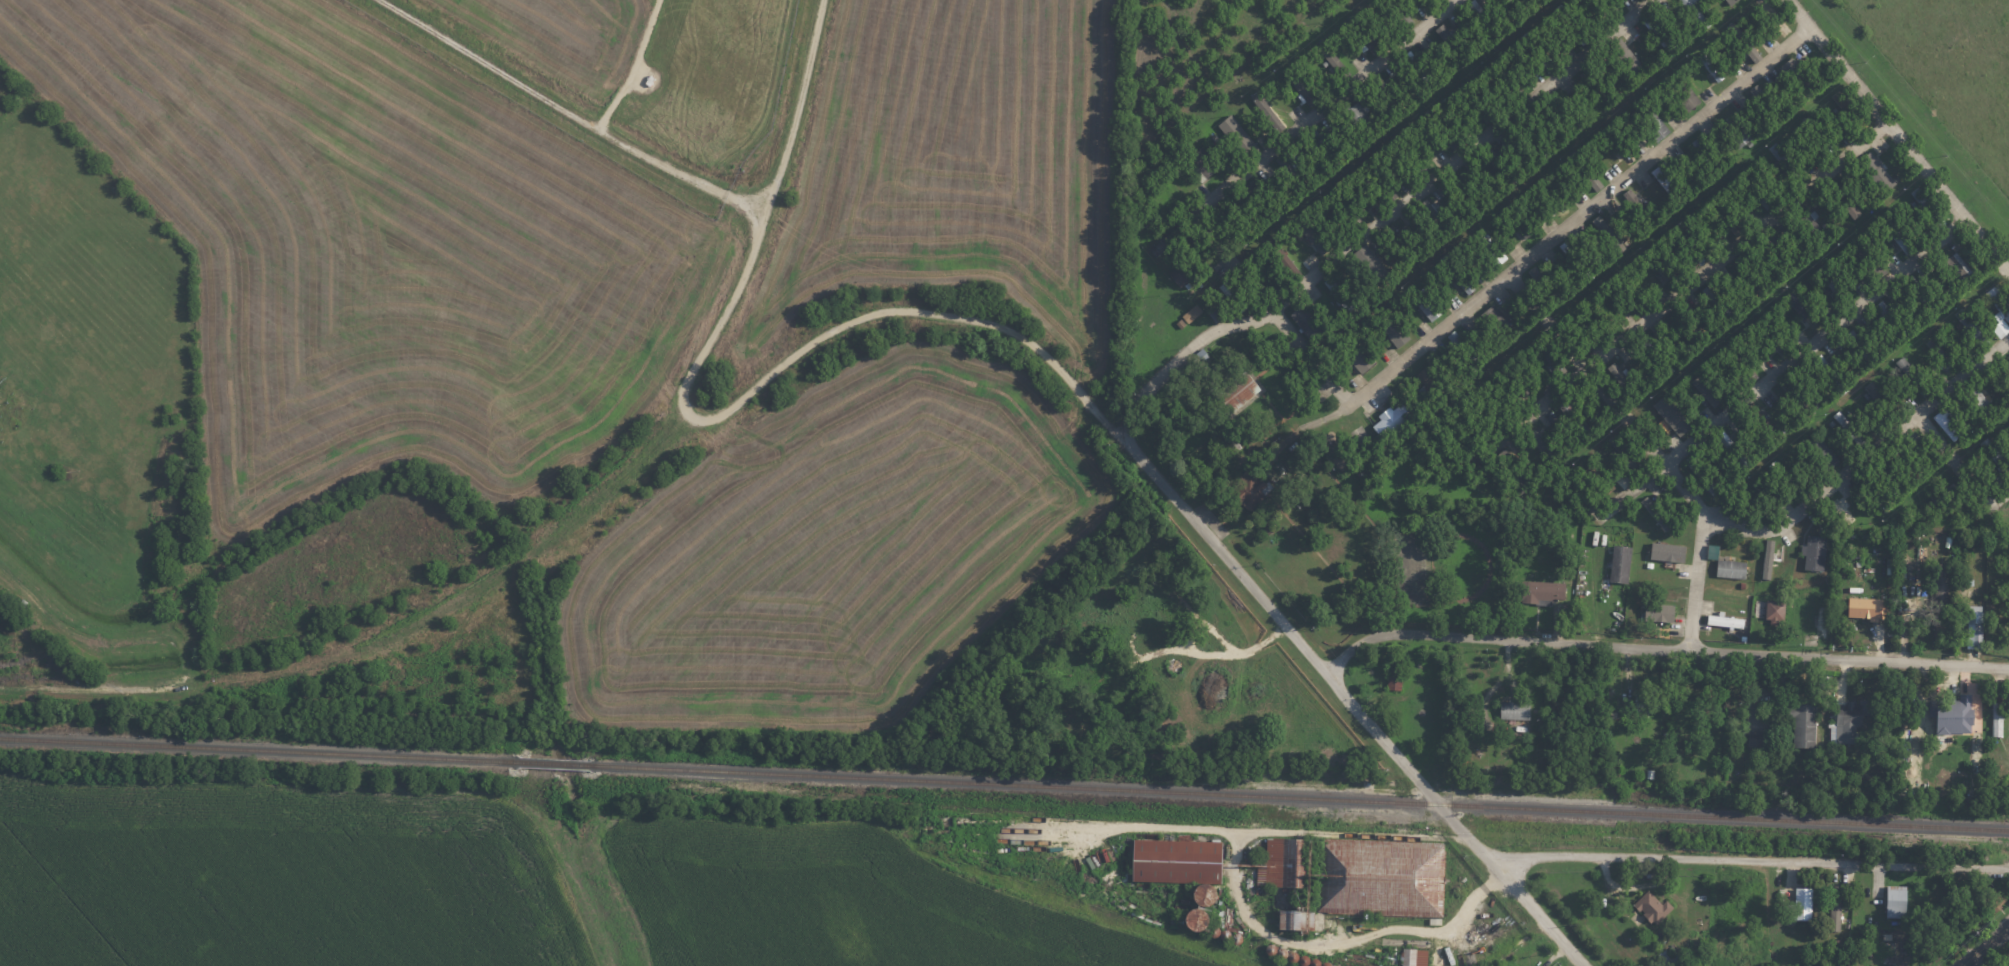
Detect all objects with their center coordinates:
building: (1435, 0)
building: (1733, 1)
building: (1606, 4)
building: (1400, 12)
building: (1696, 13)
building: (1485, 19)
building: (1571, 25)
building: (1660, 36)
building: (1369, 40)
building: (1454, 43)
building: (1538, 51)
building: (1627, 58)
building: (1334, 59)
road: (1385, 60)
building: (1419, 68)
building: (1711, 68)
building: (1507, 76)
building: (1798, 77)
building: (1301, 85)
building: (1595, 87)
building: (1387, 94)
building: (1686, 95)
road: (550, 101)
building: (1476, 102)
building: (1765, 102)
road: (796, 107)
building: (1849, 110)
building: (1565, 115)
building: (1360, 118)
building: (1652, 122)
building: (1736, 130)
building: (1447, 132)
road: (1898, 134)
building: (1818, 136)
building: (1240, 137)
building: (1533, 142)
building: (1618, 145)
building: (1326, 149)
road: (1662, 152)
building: (1410, 154)
building: (1703, 158)
building: (1495, 160)
building: (1205, 162)
building: (1786, 162)
road: (1253, 168)
building: (1586, 170)
building: (1877, 172)
building: (1293, 173)
building: (1668, 179)
building: (1380, 182)
building: (1467, 189)
building: (1756, 189)
building: (1552, 197)
building: (1262, 200)
building: (1847, 200)
road: (744, 204)
building: (1347, 206)
building: (1638, 206)
building: (1928, 207)
building: (1727, 215)
building: (1437, 220)
road: (1383, 221)
building: (1519, 222)
airport: (427, 225)
building: (1814, 225)
building: (1231, 227)
building: (1608, 234)
building: (1897, 234)
building: (1317, 235)
building: (1172, 238)
building: (1691, 241)
building: (1406, 243)
building: (1492, 251)
building: (1783, 251)
building: (1284, 258)
building: (1575, 259)
building: (1866, 261)
road: (1234, 262)
building: (1372, 264)
building: (1957, 268)
building: (1663, 269)
building: (1188, 270)
building: (1458, 275)
building: (1748, 277)
building: (1544, 283)
building: (1835, 285)
road: (1690, 286)
building: (1924, 295)
building: (1233, 297)
building: (1341, 297)
building: (1637, 300)
building: (1428, 304)
building: (1719, 304)
building: (1798, 305)
building: (1999, 309)
road: (936, 313)
building: (1193, 313)
building: (1216, 314)
building: (1893, 320)
building: (1309, 321)
building: (1498, 321)
building: (1604, 325)
building: (1971, 328)
building: (1395, 329)
road: (713, 330)
building: (1689, 330)
building: (1770, 335)
building: (1862, 346)
building: (1465, 349)
building: (1939, 352)
building: (1655, 355)
building: (1362, 358)
building: (1553, 358)
building: (1739, 360)
road: (1783, 370)
building: (1832, 373)
road: (1384, 375)
building: (1913, 377)
building: (2008, 377)
building: (1517, 379)
building: (1624, 379)
building: (1431, 381)
building: (1710, 389)
building: (1237, 394)
road: (1612, 396)
building: (1799, 396)
building: (1880, 401)
building: (1979, 401)
building: (1491, 412)
building: (1674, 415)
building: (1394, 419)
building: (1578, 422)
building: (1765, 422)
building: (1950, 423)
road: (1310, 426)
building: (1848, 427)
building: (1233, 443)
building: (1544, 445)
building: (1733, 449)
building: (1823, 452)
building: (1626, 453)
building: (1995, 456)
road: (1867, 458)
building: (1291, 463)
building: (1908, 464)
road: (1963, 467)
building: (1513, 471)
building: (1703, 475)
building: (1600, 479)
building: (1624, 480)
building: (1787, 480)
building: (1255, 488)
building: (1876, 491)
building: (1944, 495)
building: (1658, 513)
building: (1716, 551)
building: (1670, 552)
building: (1817, 552)
building: (1770, 558)
building: (1623, 563)
building: (1734, 568)
road: (1699, 584)
building: (1547, 590)
building: (1943, 592)
building: (1870, 608)
building: (1778, 611)
building: (1663, 612)
building: (1728, 620)
building: (1975, 626)
building: (1943, 627)
road: (1662, 646)
building: (1397, 673)
road: (72, 686)
building: (1649, 699)
road: (1357, 705)
building: (1516, 710)
building: (1955, 713)
building: (1151, 715)
building: (1999, 719)
building: (1852, 720)
building: (1806, 725)
building: (1762, 739)
railway: (260, 750)
railway: (554, 763)
railway: (1298, 796)
railway: (1173, 818)
road: (1756, 860)
building: (1287, 863)
building: (1185, 865)
building: (1396, 891)
building: (1996, 897)
building: (1837, 901)
building: (1899, 901)
building: (1805, 903)
building: (1653, 907)
building: (1205, 919)
building: (1296, 919)
road: (1985, 946)
building: (1415, 957)
building: (1667, 957)

